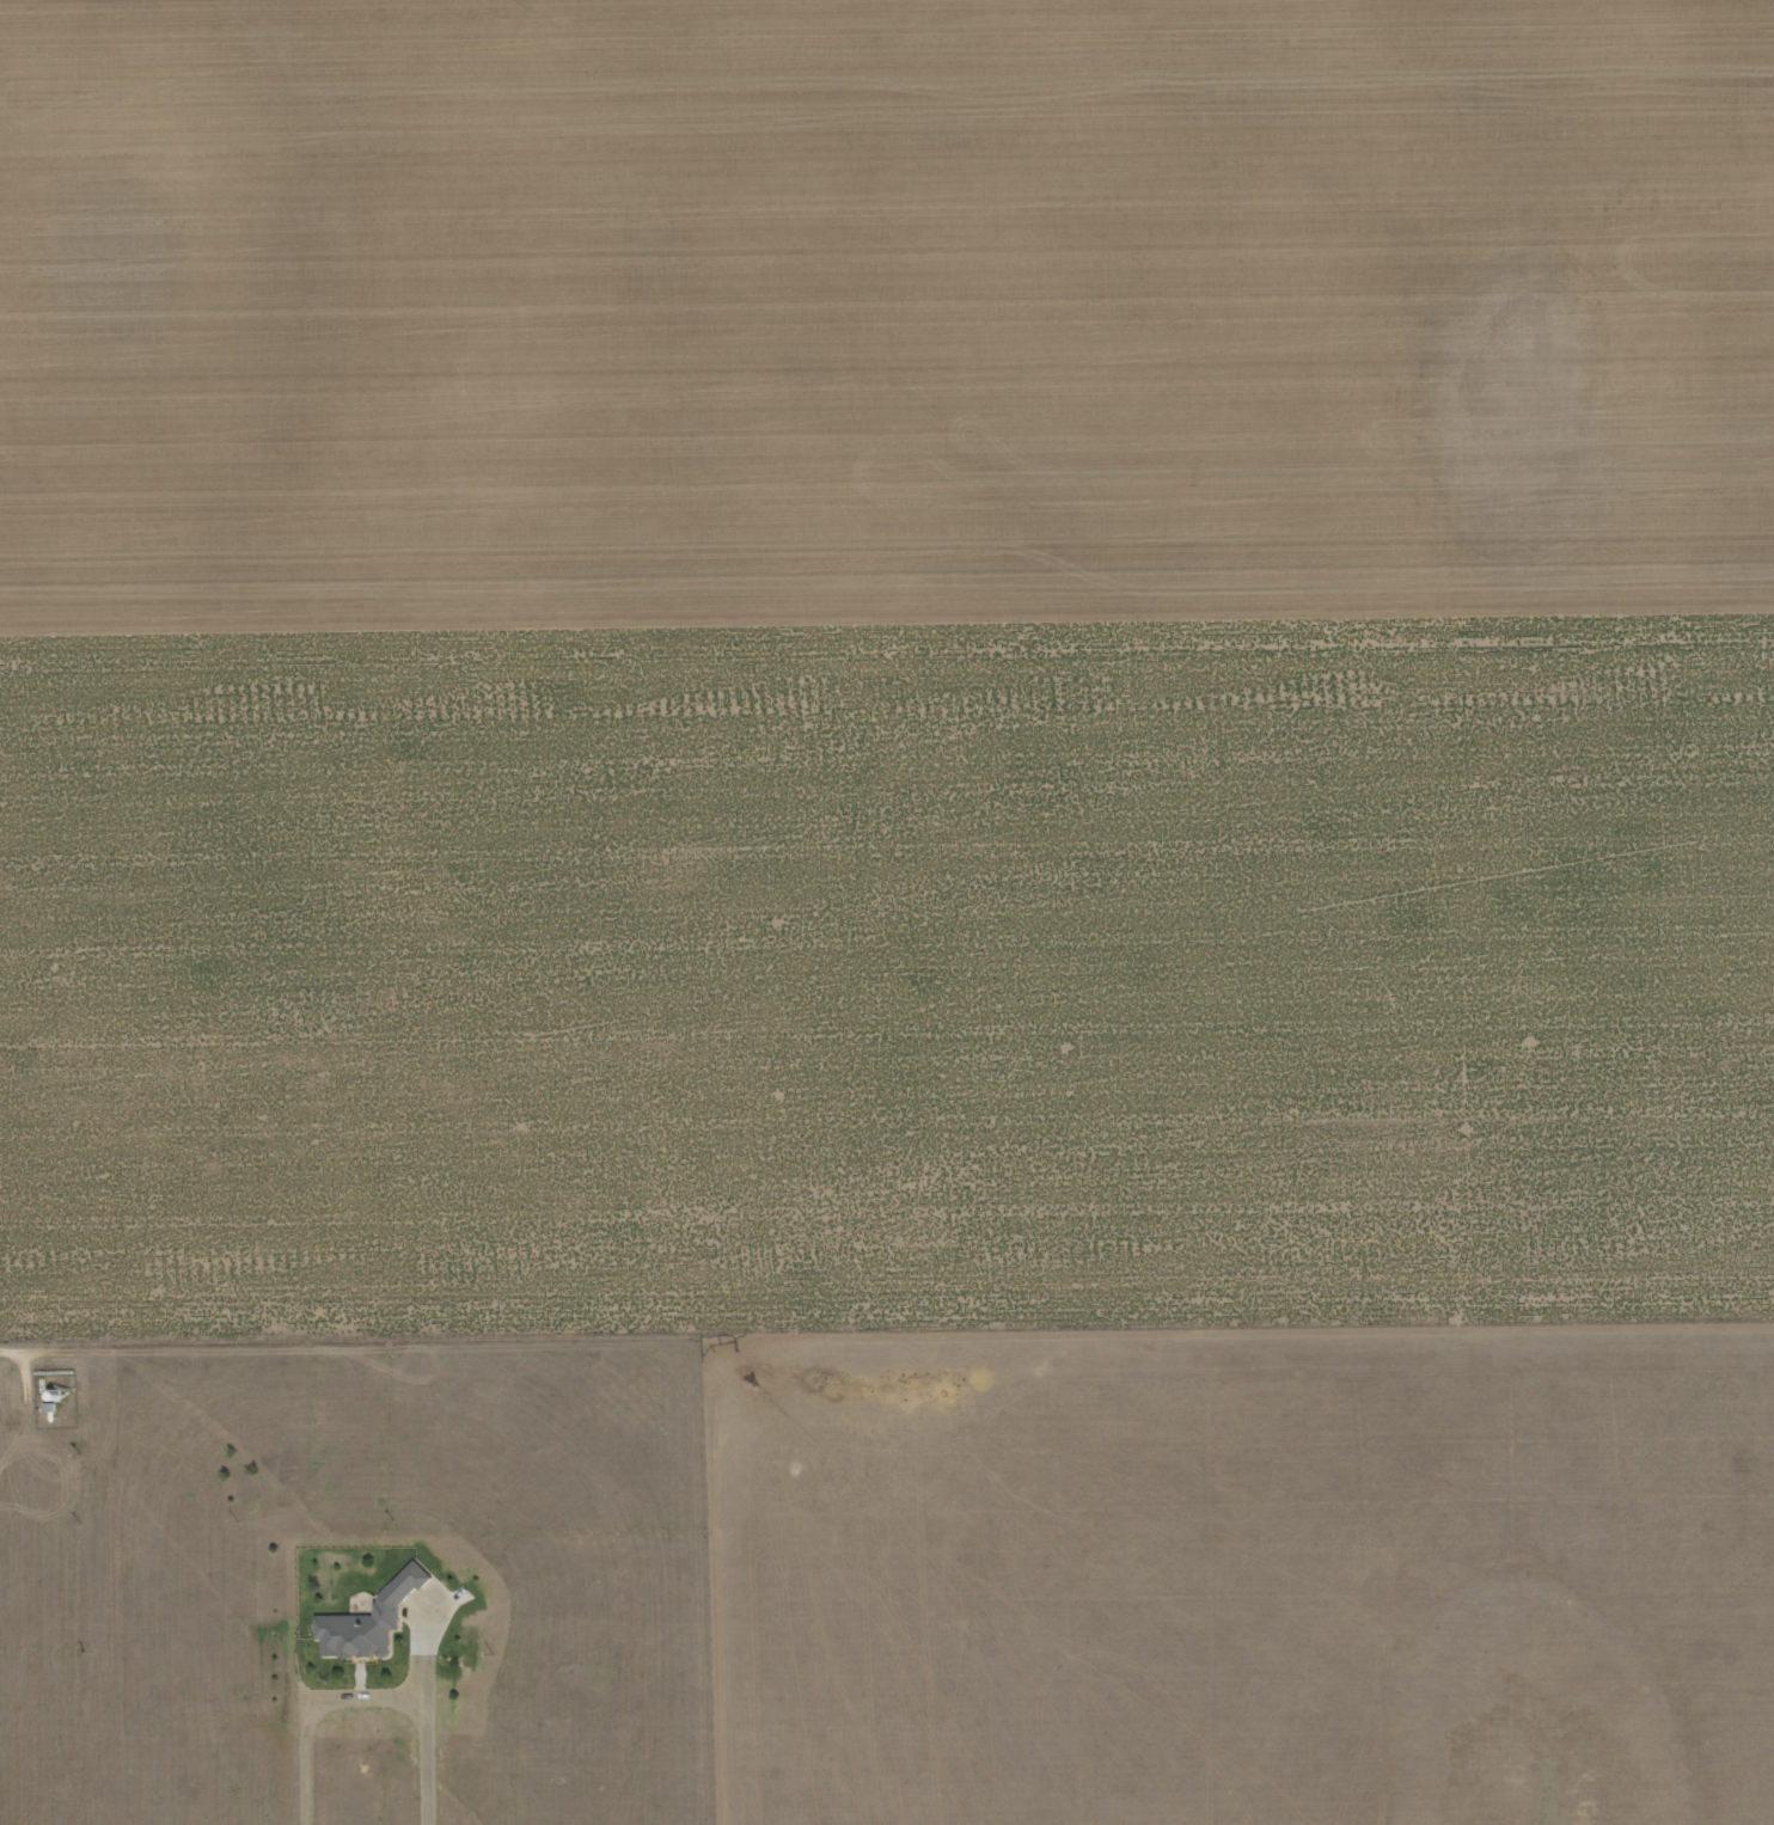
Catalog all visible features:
building: (363, 1633)

